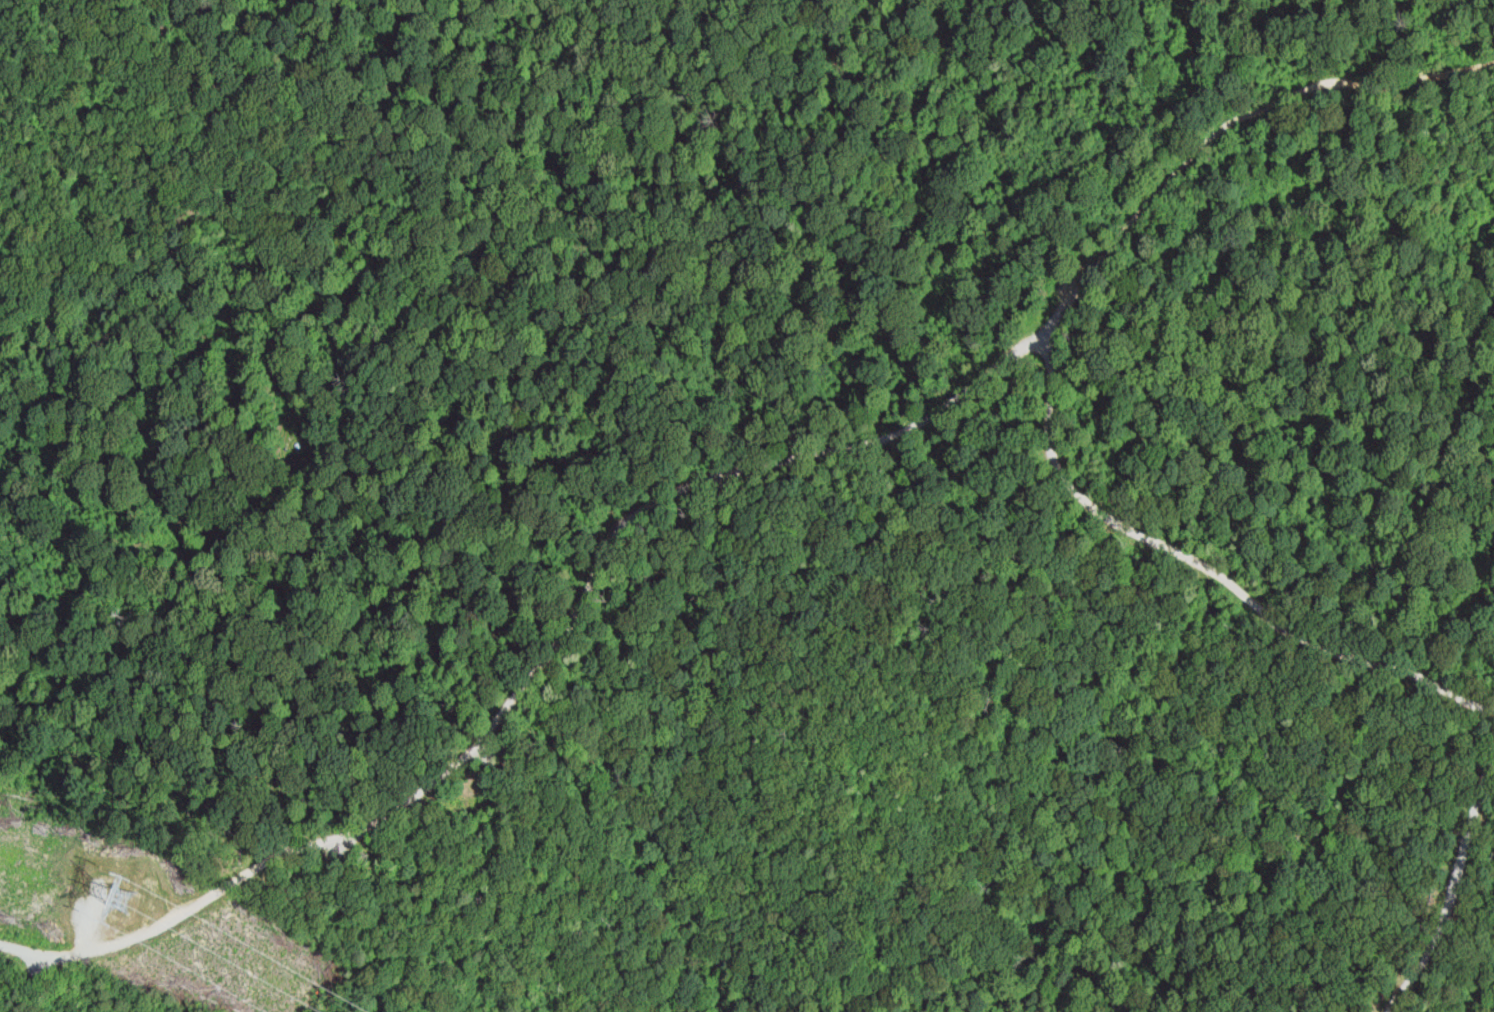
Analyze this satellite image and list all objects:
road: (729, 457)
road: (1088, 582)

